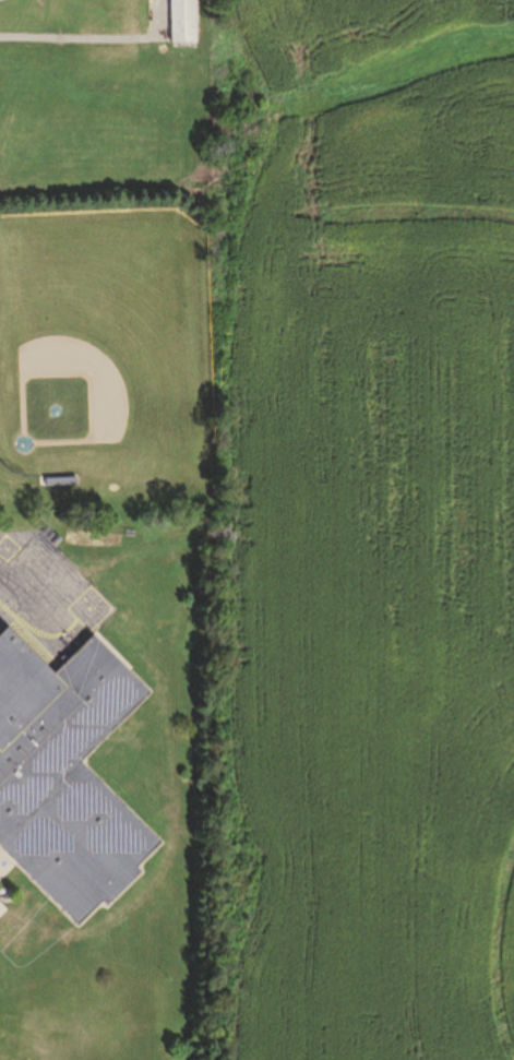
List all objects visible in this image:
building: (178, 22)
road: (1, 585)
building: (63, 776)

